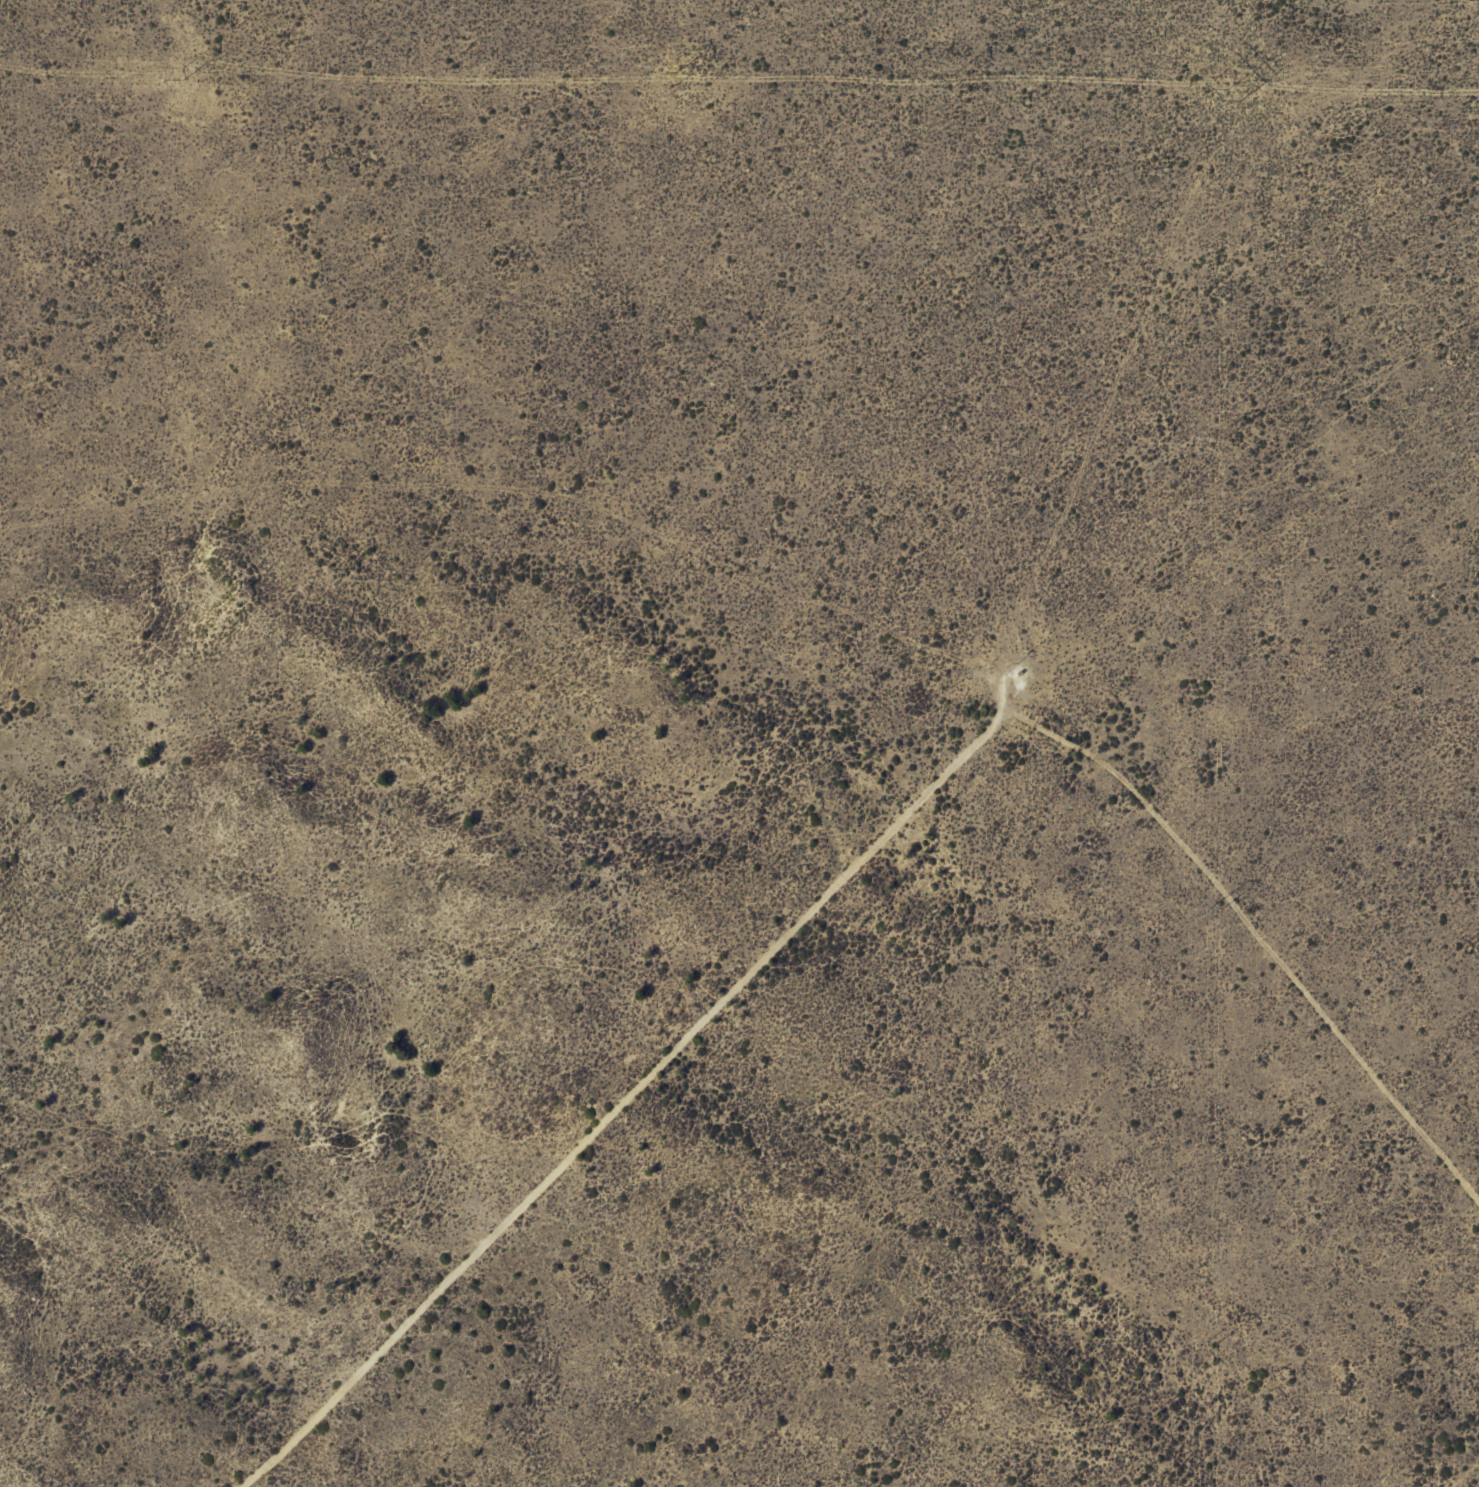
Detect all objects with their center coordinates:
power tower: (182, 71)
power tower: (675, 79)
power tower: (951, 79)
power tower: (1228, 88)
power tower: (1218, 436)
power tower: (1215, 908)
power tower: (1211, 1340)

